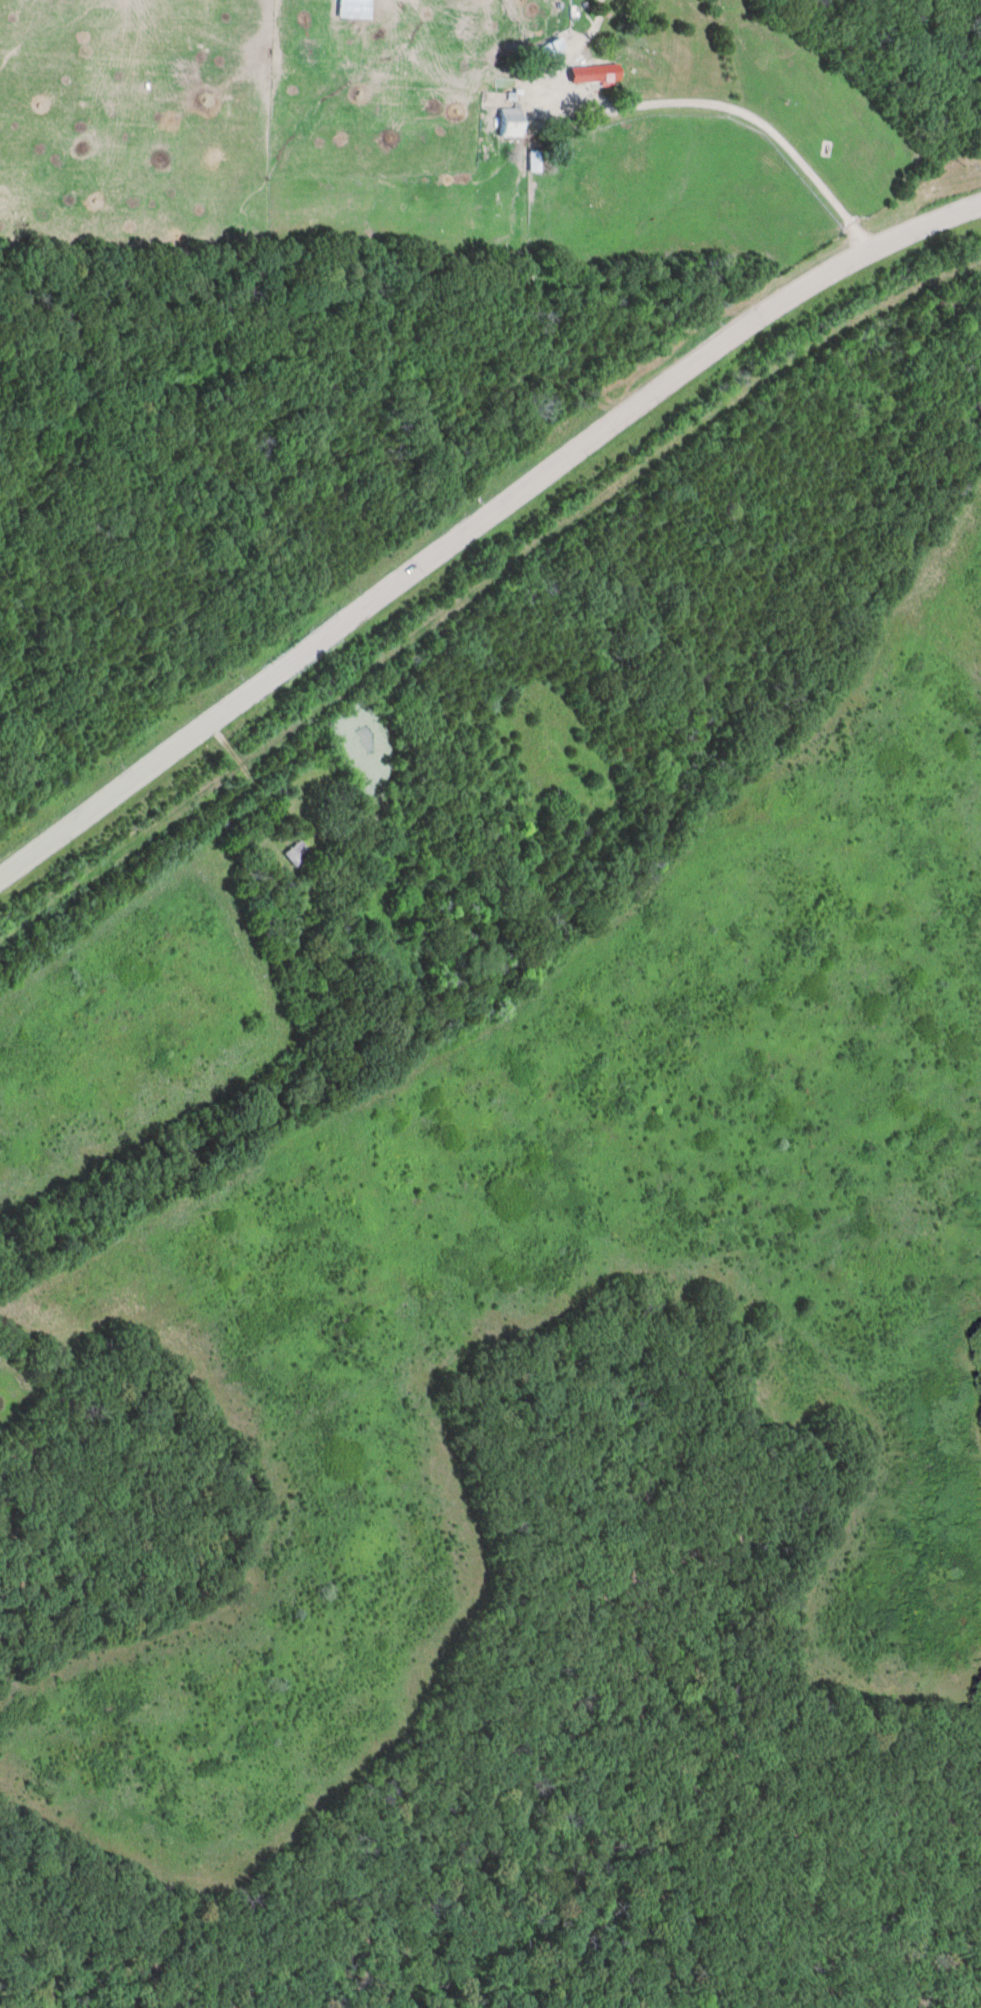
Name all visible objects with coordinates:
building: (607, 75)
building: (512, 123)
road: (758, 125)
road: (478, 522)
railway: (478, 587)
building: (296, 855)

